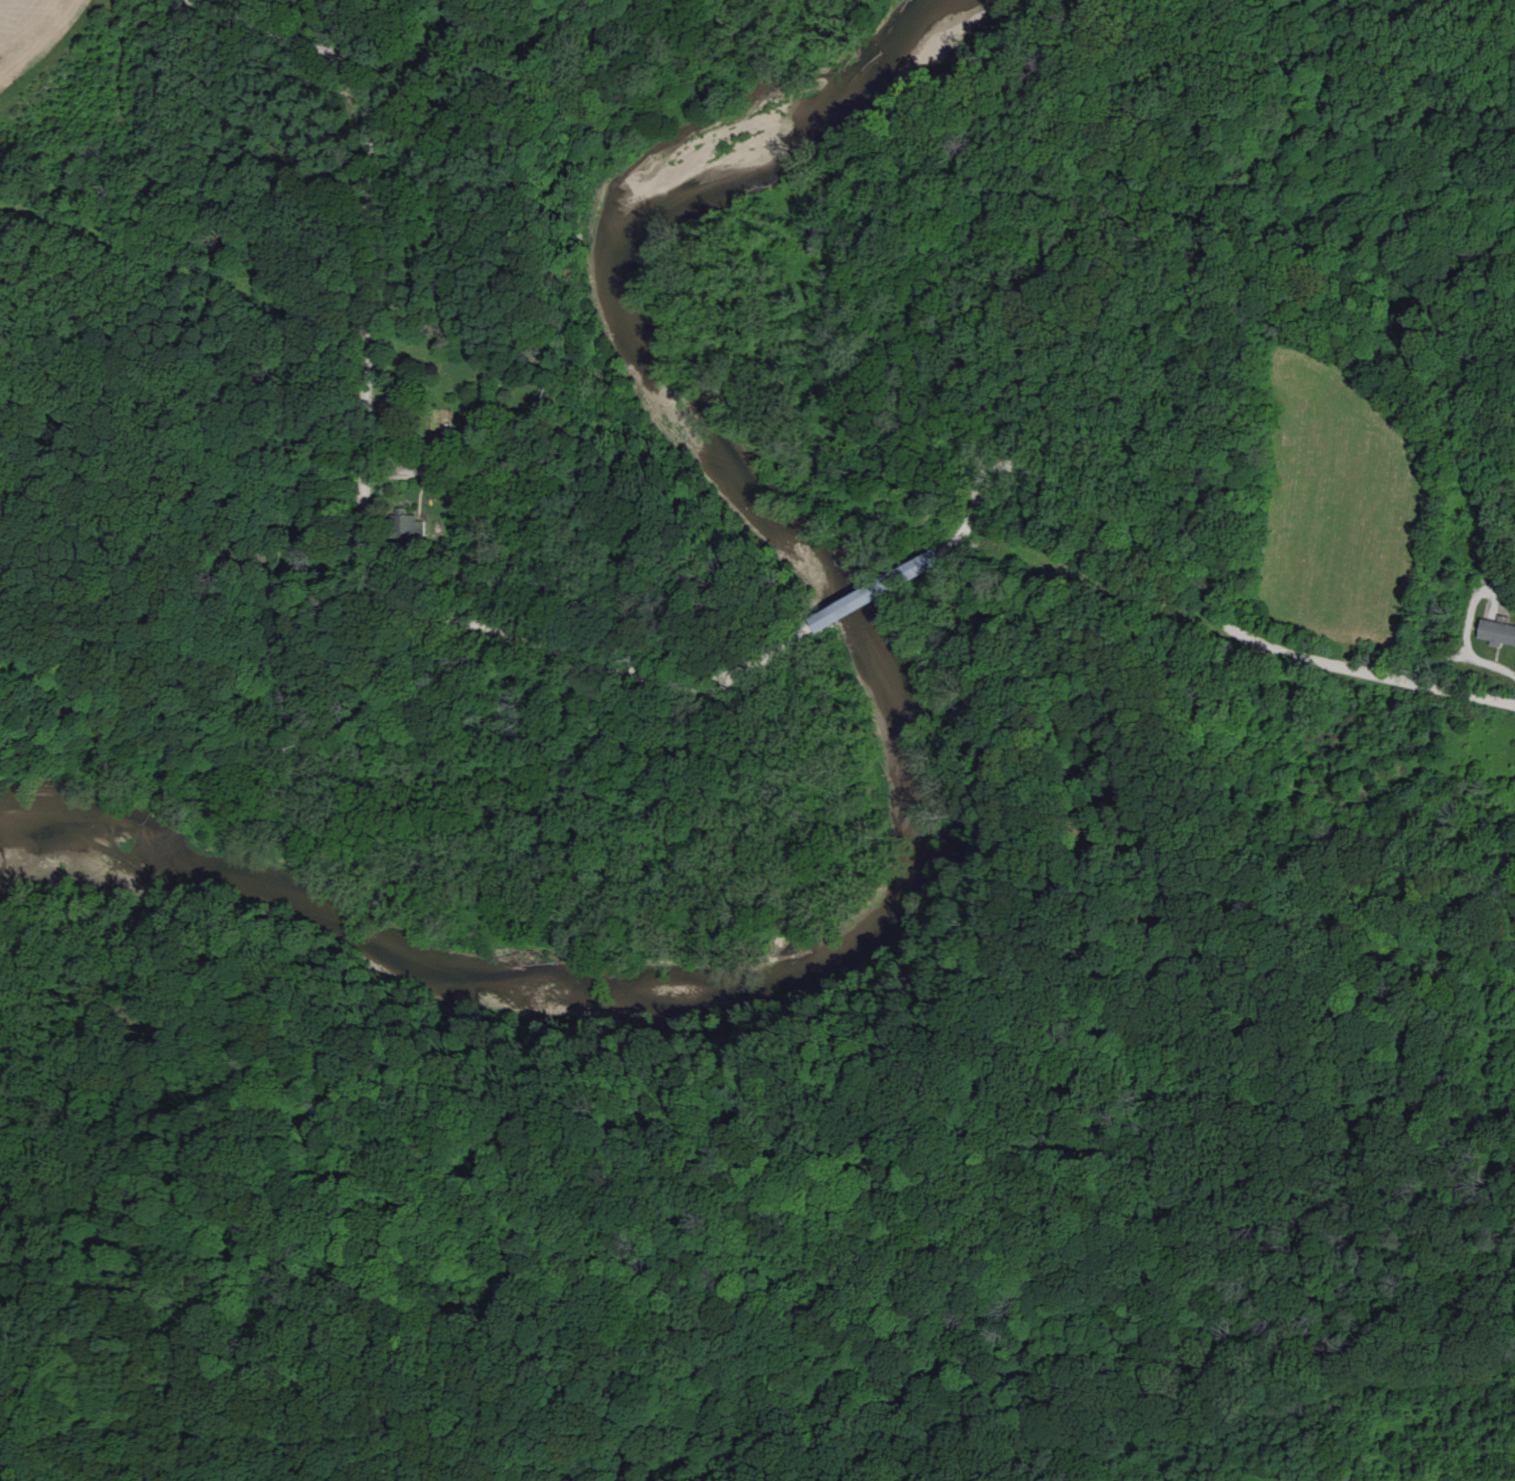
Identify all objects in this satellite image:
road: (118, 59)
road: (360, 197)
road: (1196, 579)
building: (854, 602)
road: (868, 605)
building: (1498, 632)
road: (537, 655)
river: (906, 782)

